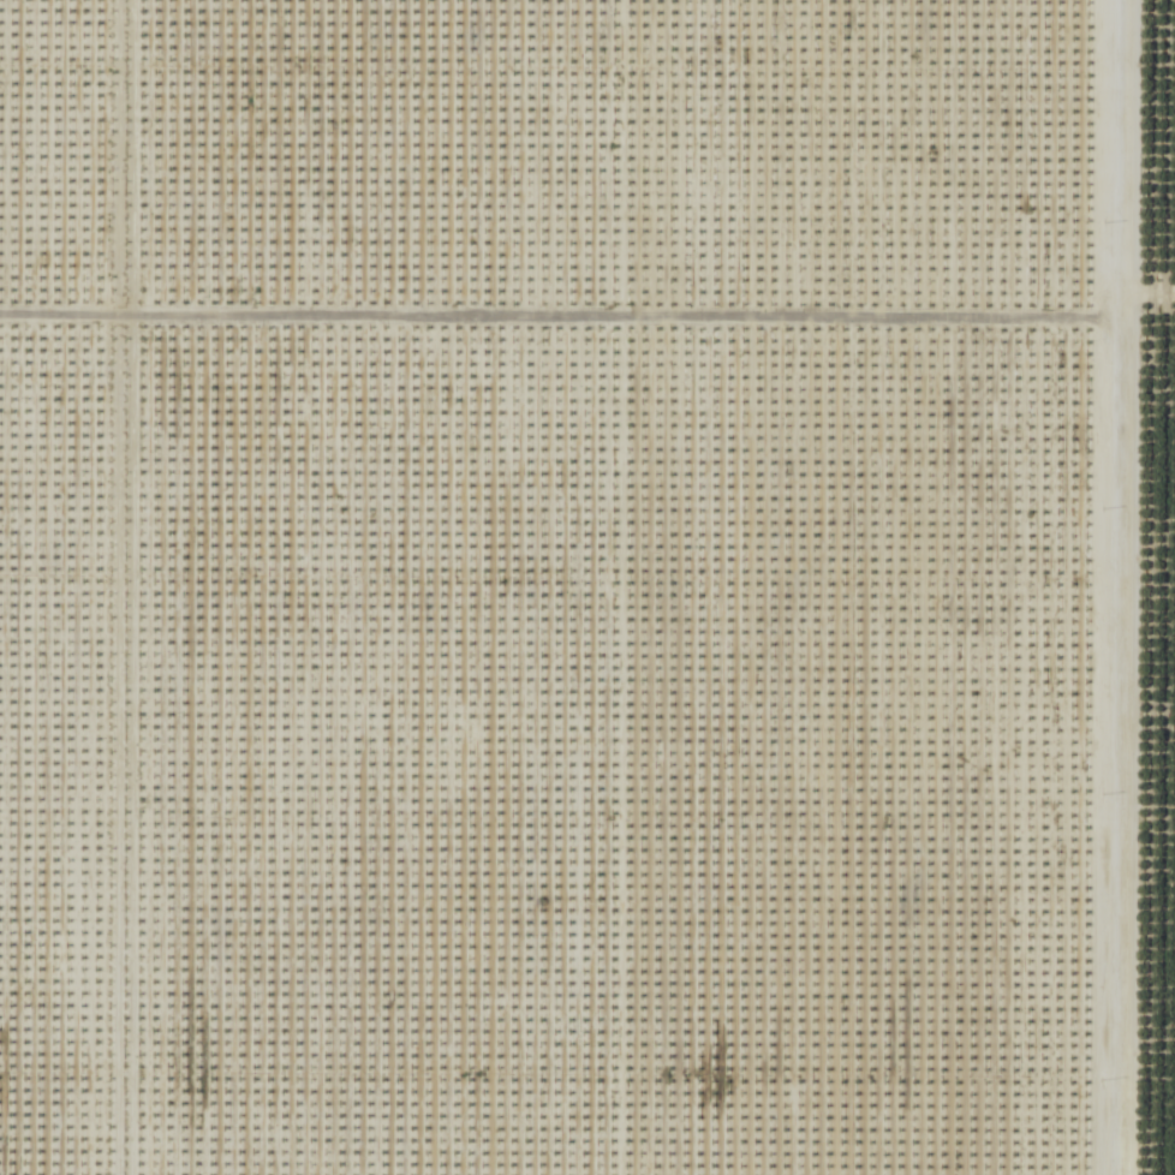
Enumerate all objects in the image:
road: (1143, 294)
road: (555, 323)
road: (1110, 586)

